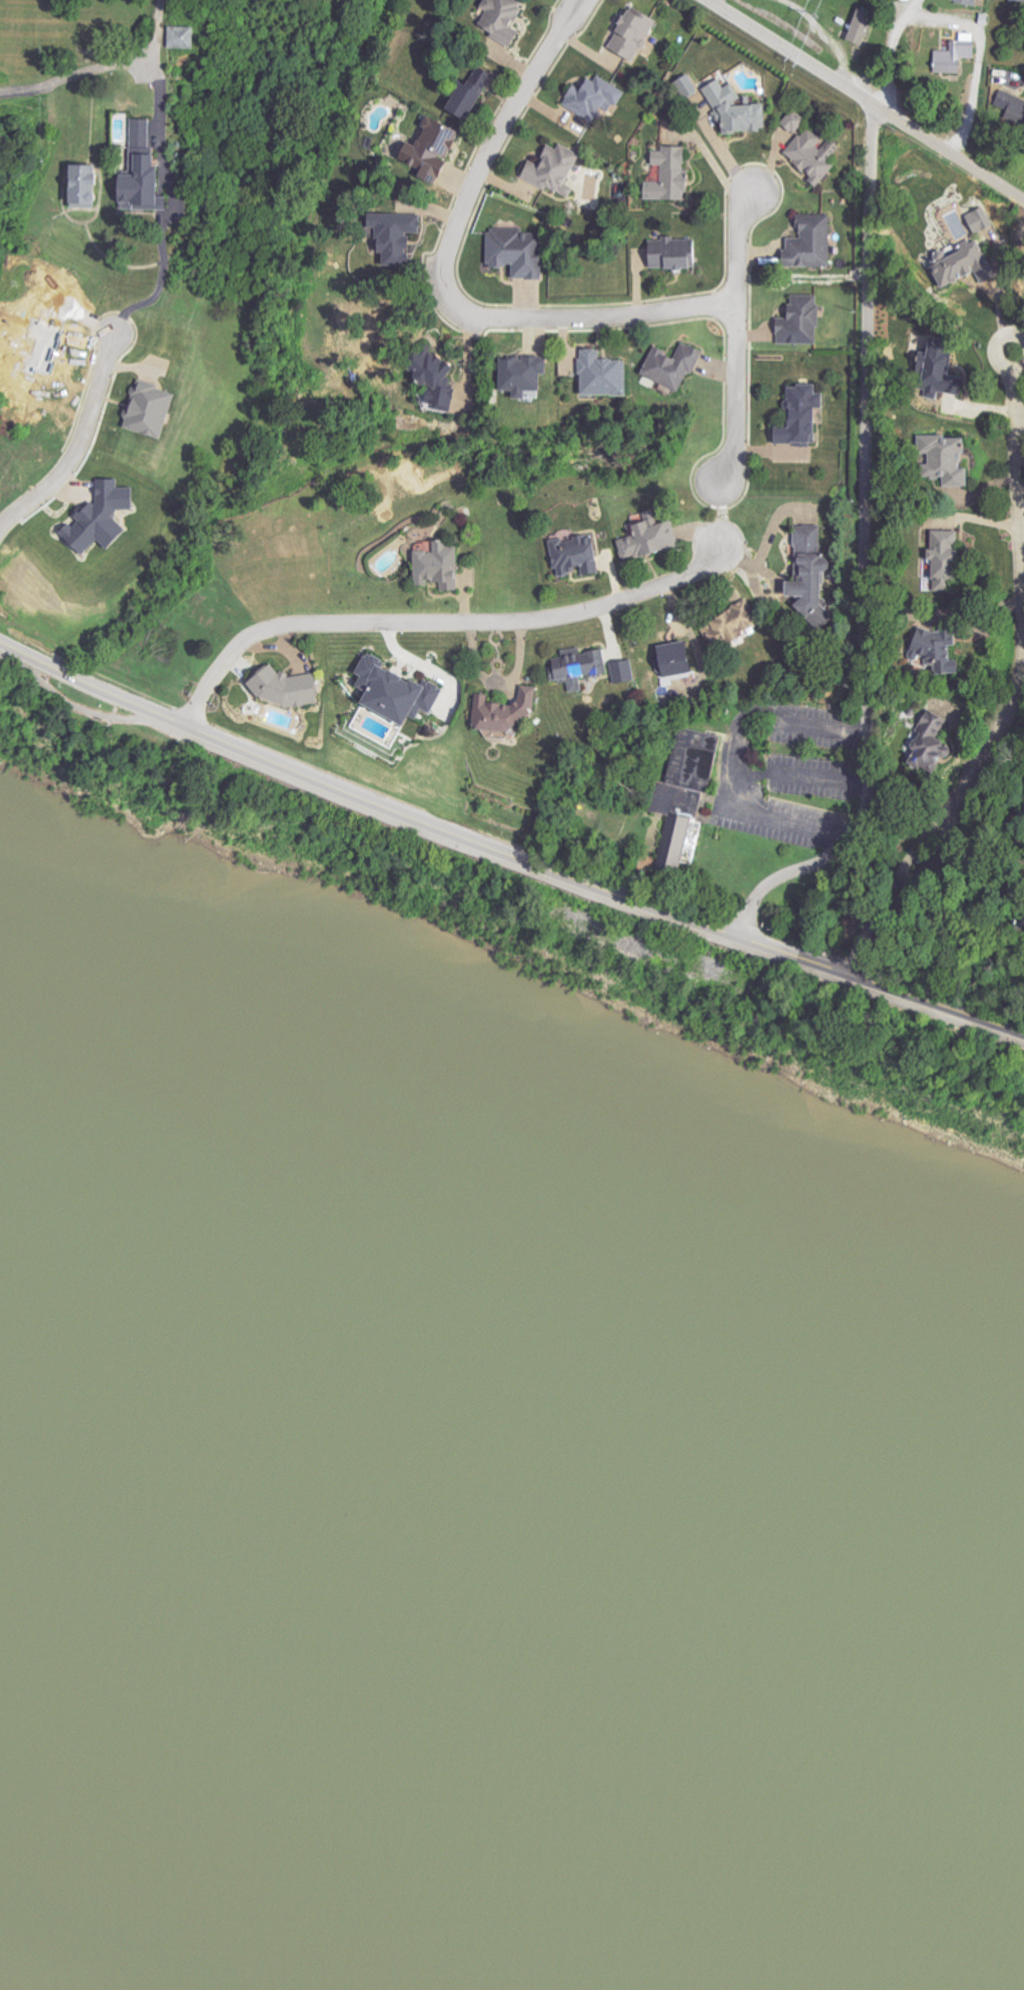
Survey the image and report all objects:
building: (899, 0)
building: (1017, 1)
building: (965, 2)
road: (912, 7)
road: (556, 15)
road: (573, 19)
building: (498, 20)
road: (951, 21)
building: (862, 29)
building: (628, 35)
building: (179, 37)
building: (953, 56)
road: (105, 68)
building: (686, 85)
building: (465, 92)
road: (3, 93)
building: (590, 97)
road: (863, 101)
building: (734, 109)
building: (794, 122)
building: (812, 155)
building: (551, 170)
building: (666, 175)
building: (152, 178)
building: (92, 186)
road: (172, 206)
building: (390, 234)
building: (807, 245)
building: (513, 253)
building: (671, 254)
building: (962, 265)
road: (447, 296)
building: (799, 322)
road: (731, 334)
road: (991, 350)
building: (670, 366)
building: (519, 375)
building: (601, 375)
building: (429, 376)
building: (155, 410)
building: (798, 415)
road: (79, 444)
building: (942, 460)
building: (106, 517)
building: (648, 539)
road: (859, 552)
building: (937, 553)
building: (572, 556)
building: (441, 565)
building: (804, 576)
road: (1021, 600)
road: (435, 621)
building: (733, 621)
building: (916, 645)
building: (671, 660)
building: (577, 667)
building: (623, 671)
building: (289, 689)
building: (402, 691)
building: (508, 713)
building: (926, 744)
road: (727, 757)
parking lot: (785, 774)
road: (795, 774)
building: (678, 796)
road: (455, 837)
road: (913, 844)
road: (926, 854)
road: (966, 856)
road: (503, 862)
road: (868, 928)
road: (974, 1015)
river: (512, 1297)
river: (512, 1601)

